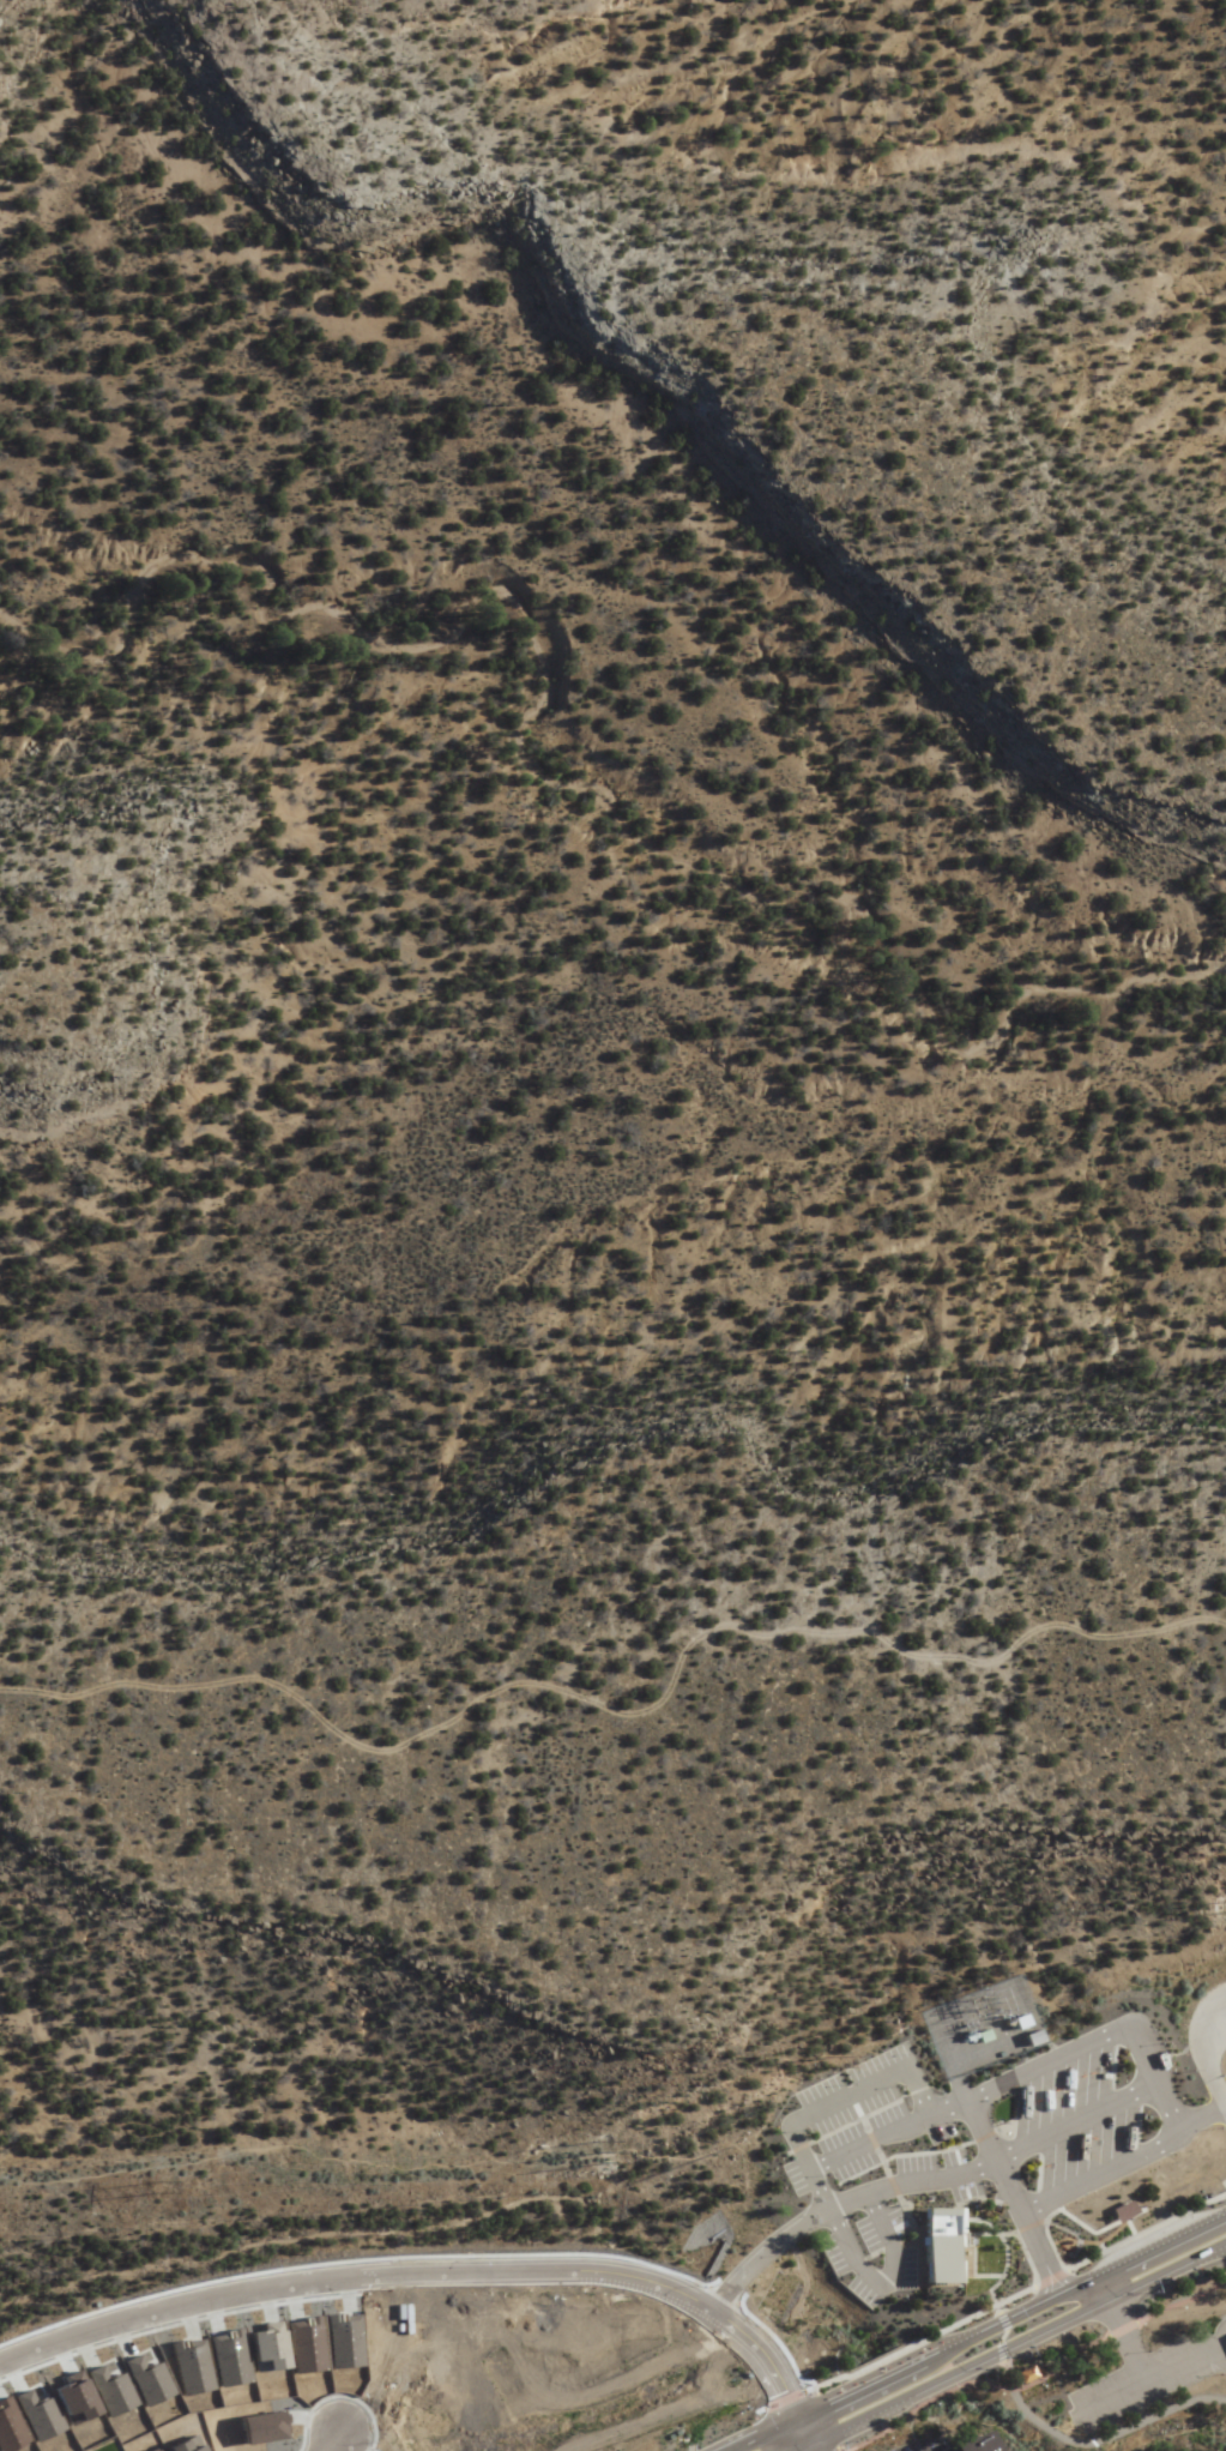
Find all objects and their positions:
road: (622, 1710)
power substation: (980, 2028)
building: (1025, 2037)
parking lot: (871, 2059)
road: (1200, 2060)
road: (994, 2083)
parking lot: (813, 2085)
road: (862, 2142)
road: (1112, 2156)
road: (145, 2161)
road: (834, 2205)
building: (1115, 2209)
road: (793, 2228)
road: (1186, 2228)
road: (881, 2234)
building: (930, 2250)
road: (1191, 2251)
road: (1099, 2270)
road: (413, 2274)
road: (1112, 2314)
road: (992, 2318)
road: (967, 2360)
road: (1026, 2363)
road: (858, 2378)
parking lot: (1140, 2383)
road: (745, 2431)
road: (795, 2431)
road: (1100, 2440)
road: (334, 2444)
building: (968, 2444)
parking lot: (914, 2445)

